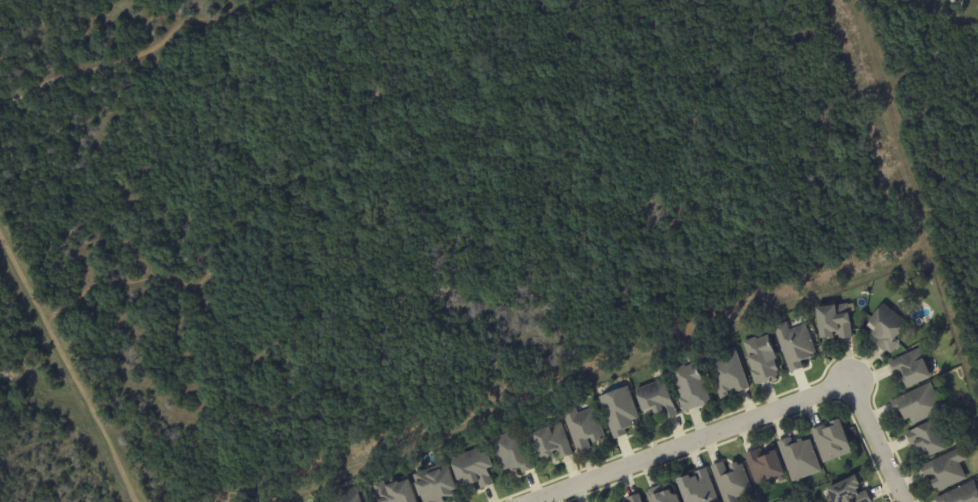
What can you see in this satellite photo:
building: (977, 9)
park: (400, 220)
building: (832, 321)
building: (886, 328)
building: (793, 344)
building: (760, 359)
building: (909, 368)
road: (65, 372)
building: (726, 373)
building: (689, 386)
building: (655, 399)
building: (917, 404)
building: (617, 411)
road: (750, 421)
building: (581, 426)
building: (928, 437)
building: (831, 440)
building: (549, 441)
building: (511, 451)
building: (797, 458)
building: (764, 465)
building: (470, 467)
building: (945, 469)
building: (730, 481)
building: (434, 483)
building: (695, 487)
building: (394, 491)
building: (848, 491)
building: (960, 494)
building: (660, 495)
building: (346, 496)
building: (634, 498)

